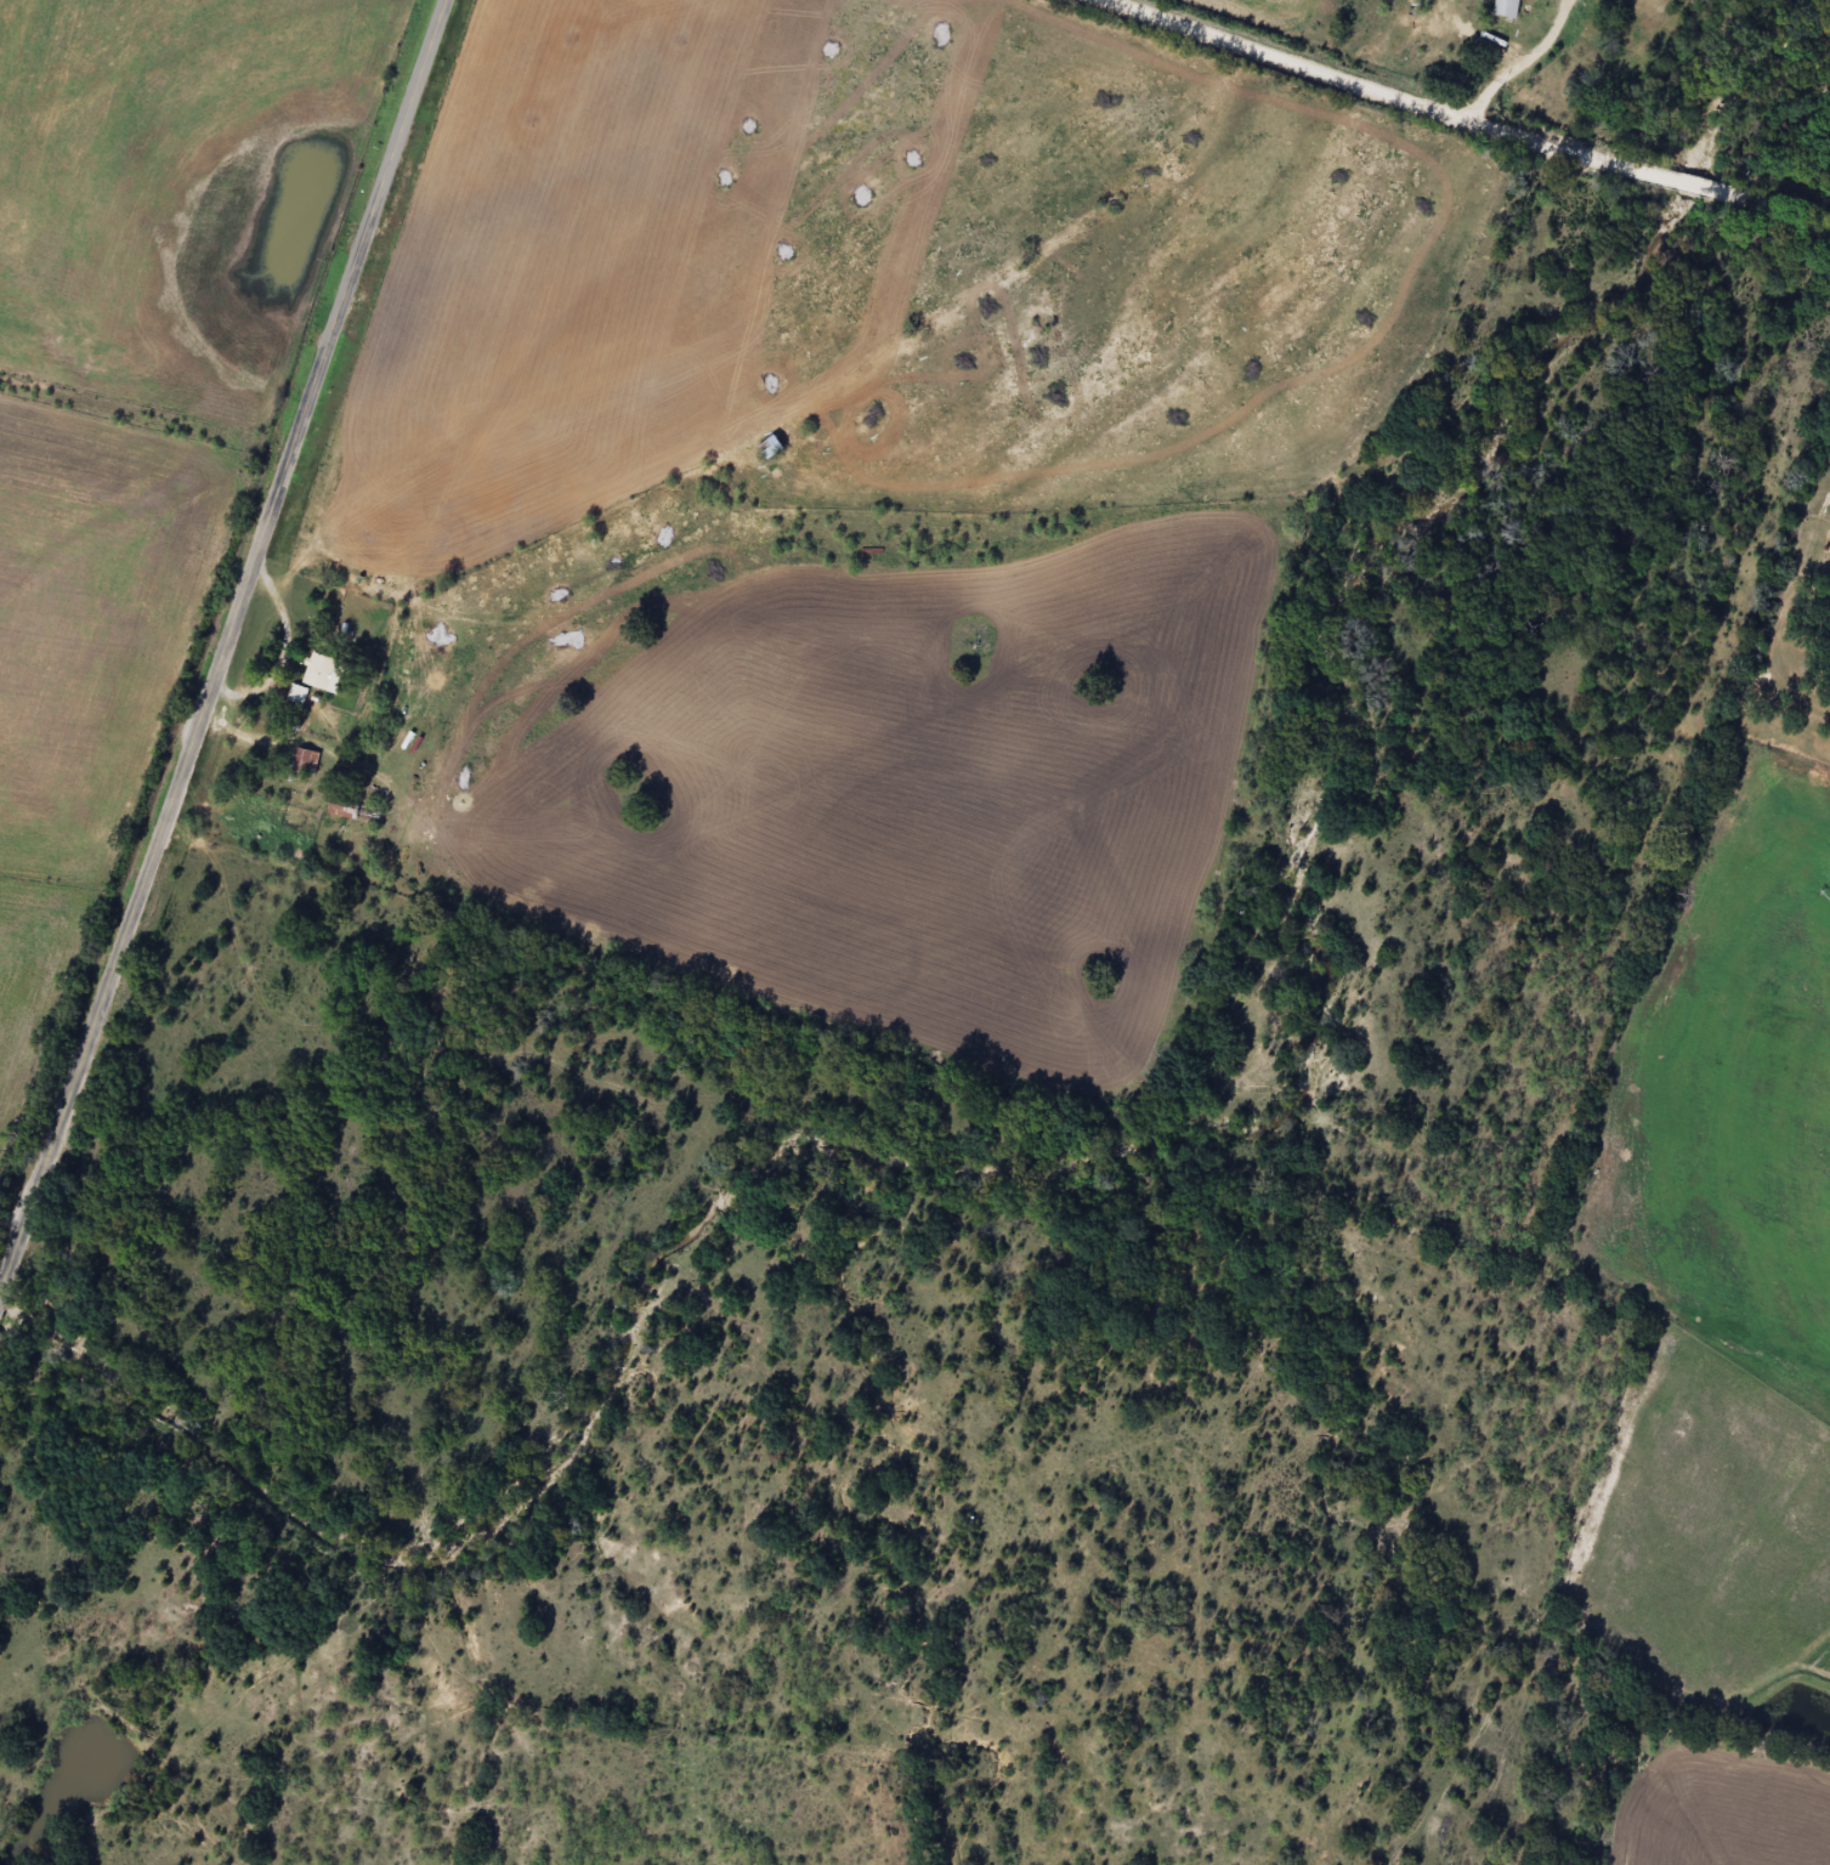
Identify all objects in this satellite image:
building: (1508, 8)
road: (1543, 89)
building: (775, 446)
road: (225, 646)
park: (1790, 651)
building: (321, 669)
building: (299, 695)
building: (307, 761)
building: (356, 811)

